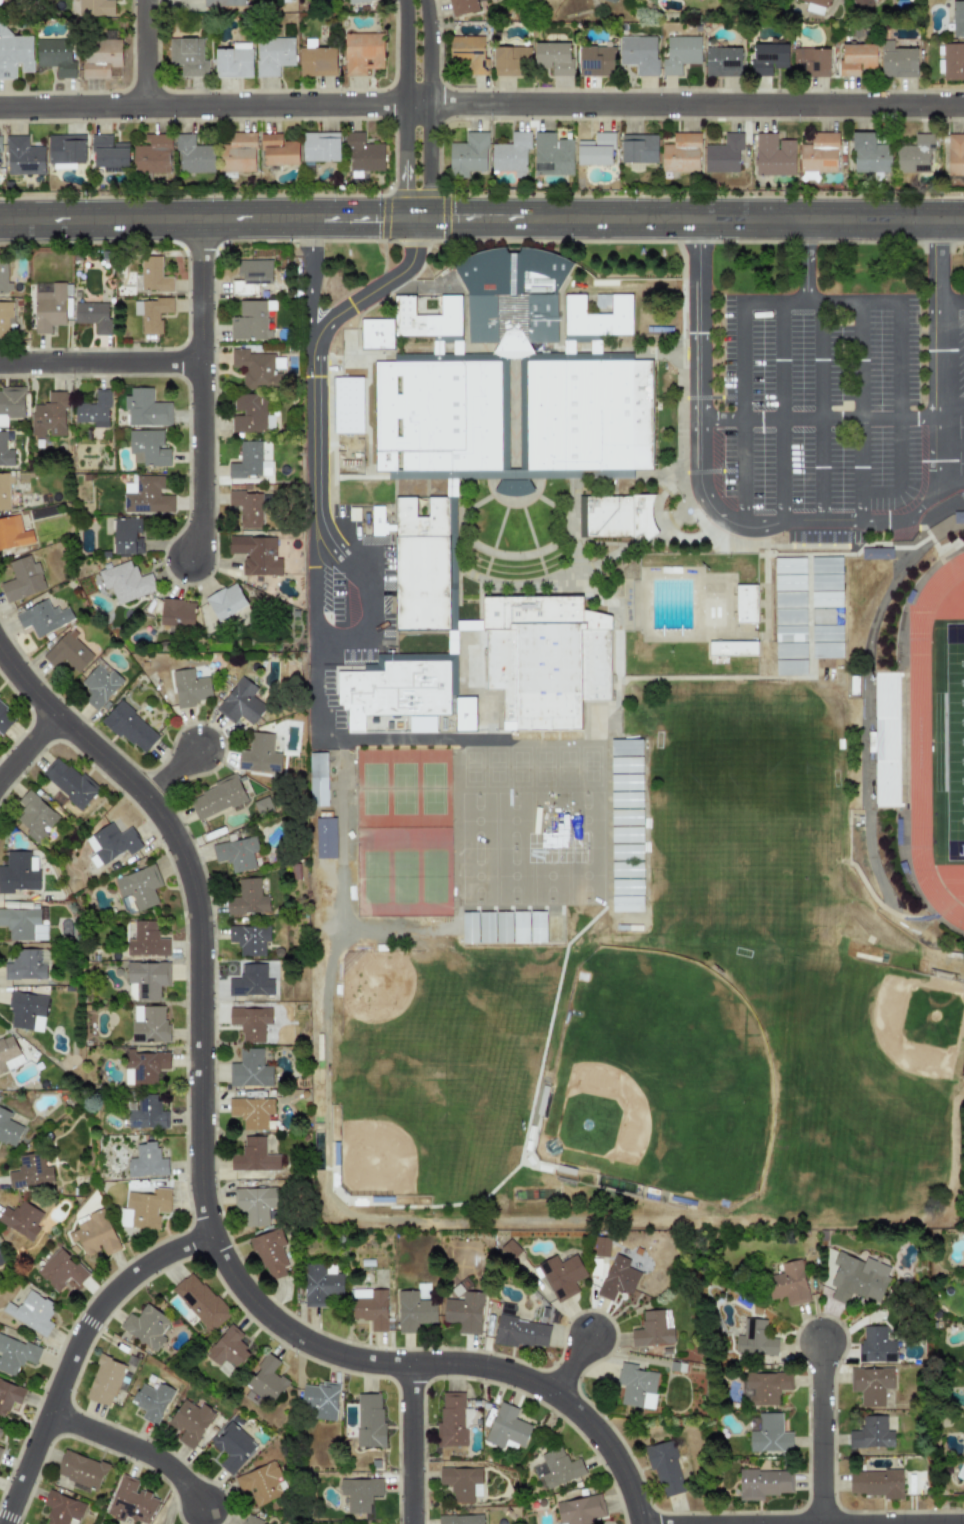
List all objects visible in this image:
building: (613, 0)
building: (357, 1)
building: (223, 3)
building: (862, 4)
building: (461, 6)
building: (815, 6)
building: (95, 8)
building: (957, 18)
road: (146, 52)
building: (361, 52)
building: (468, 52)
building: (14, 53)
building: (639, 54)
building: (680, 54)
building: (273, 55)
building: (55, 56)
building: (187, 56)
building: (100, 57)
building: (553, 57)
building: (767, 57)
building: (856, 58)
building: (510, 60)
building: (953, 60)
building: (234, 61)
building: (317, 61)
building: (596, 61)
building: (722, 61)
building: (897, 61)
building: (810, 62)
road: (481, 104)
road: (401, 110)
road: (438, 112)
building: (320, 146)
building: (638, 148)
building: (66, 149)
building: (278, 150)
building: (596, 150)
building: (108, 152)
building: (237, 153)
building: (681, 153)
building: (819, 153)
building: (869, 153)
building: (152, 154)
building: (193, 154)
building: (363, 154)
building: (511, 154)
building: (552, 154)
building: (723, 154)
building: (955, 154)
building: (468, 155)
building: (774, 155)
building: (914, 155)
building: (23, 156)
building: (0, 168)
traffic signals: (401, 186)
road: (363, 218)
traffic signals: (373, 218)
traffic signals: (455, 218)
road: (477, 218)
road: (100, 219)
road: (256, 219)
road: (751, 219)
traffic signals: (418, 251)
road: (808, 261)
building: (153, 275)
building: (4, 276)
building: (251, 276)
road: (310, 283)
building: (512, 295)
road: (952, 302)
road: (823, 303)
building: (48, 306)
building: (151, 313)
building: (93, 315)
building: (598, 316)
building: (5, 317)
building: (426, 318)
building: (251, 321)
building: (377, 334)
road: (318, 340)
road: (940, 361)
road: (99, 362)
building: (255, 369)
road: (200, 390)
building: (10, 403)
building: (347, 405)
building: (145, 409)
building: (94, 410)
road: (784, 412)
building: (248, 413)
road: (823, 413)
road: (862, 413)
building: (547, 415)
building: (598, 415)
building: (639, 415)
road: (745, 415)
road: (901, 415)
building: (49, 416)
building: (384, 416)
building: (424, 416)
building: (478, 416)
road: (833, 420)
road: (702, 425)
building: (148, 448)
road: (952, 450)
building: (5, 451)
building: (251, 460)
road: (952, 485)
building: (4, 491)
building: (146, 495)
road: (951, 505)
building: (246, 508)
building: (619, 516)
building: (958, 517)
building: (377, 520)
building: (24, 522)
road: (886, 523)
building: (13, 533)
building: (127, 536)
building: (875, 553)
building: (256, 555)
building: (421, 563)
building: (826, 565)
building: (789, 566)
road: (312, 574)
building: (22, 580)
building: (125, 582)
building: (789, 582)
building: (826, 582)
road: (372, 592)
building: (826, 599)
building: (789, 600)
building: (225, 601)
building: (746, 603)
building: (177, 613)
building: (826, 616)
building: (790, 617)
building: (43, 618)
building: (826, 633)
building: (790, 634)
building: (732, 648)
building: (790, 650)
building: (827, 650)
building: (69, 652)
building: (545, 658)
building: (790, 667)
building: (99, 686)
building: (190, 688)
building: (398, 688)
road: (866, 701)
building: (240, 702)
building: (464, 713)
building: (5, 718)
building: (130, 728)
road: (330, 739)
stadium: (927, 739)
track: (925, 740)
park: (954, 740)
road: (28, 746)
building: (625, 747)
building: (259, 754)
building: (625, 765)
road: (170, 772)
building: (317, 779)
building: (68, 782)
building: (625, 782)
park: (403, 788)
park: (434, 788)
park: (372, 789)
building: (216, 798)
building: (626, 800)
park: (748, 813)
building: (35, 816)
building: (626, 817)
building: (626, 835)
building: (324, 838)
building: (112, 842)
building: (471, 850)
building: (626, 852)
building: (236, 853)
building: (626, 869)
building: (471, 871)
park: (373, 872)
park: (403, 872)
park: (435, 872)
building: (17, 873)
building: (138, 886)
building: (626, 887)
building: (471, 891)
building: (247, 898)
building: (626, 903)
building: (127, 904)
road: (196, 906)
building: (23, 924)
building: (554, 926)
building: (469, 927)
building: (486, 927)
building: (503, 927)
building: (520, 927)
building: (537, 927)
building: (249, 939)
building: (146, 940)
building: (25, 965)
building: (146, 980)
building: (251, 981)
building: (27, 1011)
building: (250, 1022)
building: (149, 1025)
building: (8, 1053)
building: (144, 1066)
building: (249, 1069)
park: (658, 1078)
building: (251, 1111)
building: (147, 1113)
building: (8, 1129)
building: (254, 1156)
building: (146, 1161)
building: (31, 1173)
building: (254, 1204)
building: (144, 1209)
building: (21, 1219)
building: (95, 1234)
building: (601, 1246)
building: (510, 1249)
building: (266, 1256)
building: (1, 1261)
building: (61, 1269)
building: (561, 1276)
building: (618, 1278)
building: (857, 1278)
building: (788, 1283)
building: (321, 1284)
building: (202, 1302)
building: (370, 1307)
building: (413, 1311)
building: (31, 1312)
building: (464, 1312)
building: (145, 1326)
building: (652, 1330)
building: (520, 1332)
building: (754, 1338)
building: (875, 1344)
building: (230, 1346)
road: (73, 1351)
building: (15, 1354)
road: (437, 1363)
road: (570, 1365)
building: (266, 1380)
building: (104, 1381)
building: (870, 1385)
building: (636, 1386)
building: (763, 1387)
building: (9, 1396)
building: (322, 1400)
building: (151, 1401)
building: (369, 1420)
building: (451, 1421)
building: (190, 1422)
building: (507, 1428)
building: (0, 1429)
road: (819, 1432)
building: (871, 1433)
building: (769, 1435)
road: (410, 1443)
building: (232, 1447)
road: (133, 1448)
building: (0, 1450)
building: (559, 1467)
building: (664, 1467)
building: (80, 1469)
building: (461, 1483)
building: (763, 1483)
building: (875, 1483)
building: (260, 1484)
building: (359, 1493)
building: (131, 1502)
building: (61, 1508)
building: (580, 1510)
building: (460, 1519)
building: (251, 1520)

